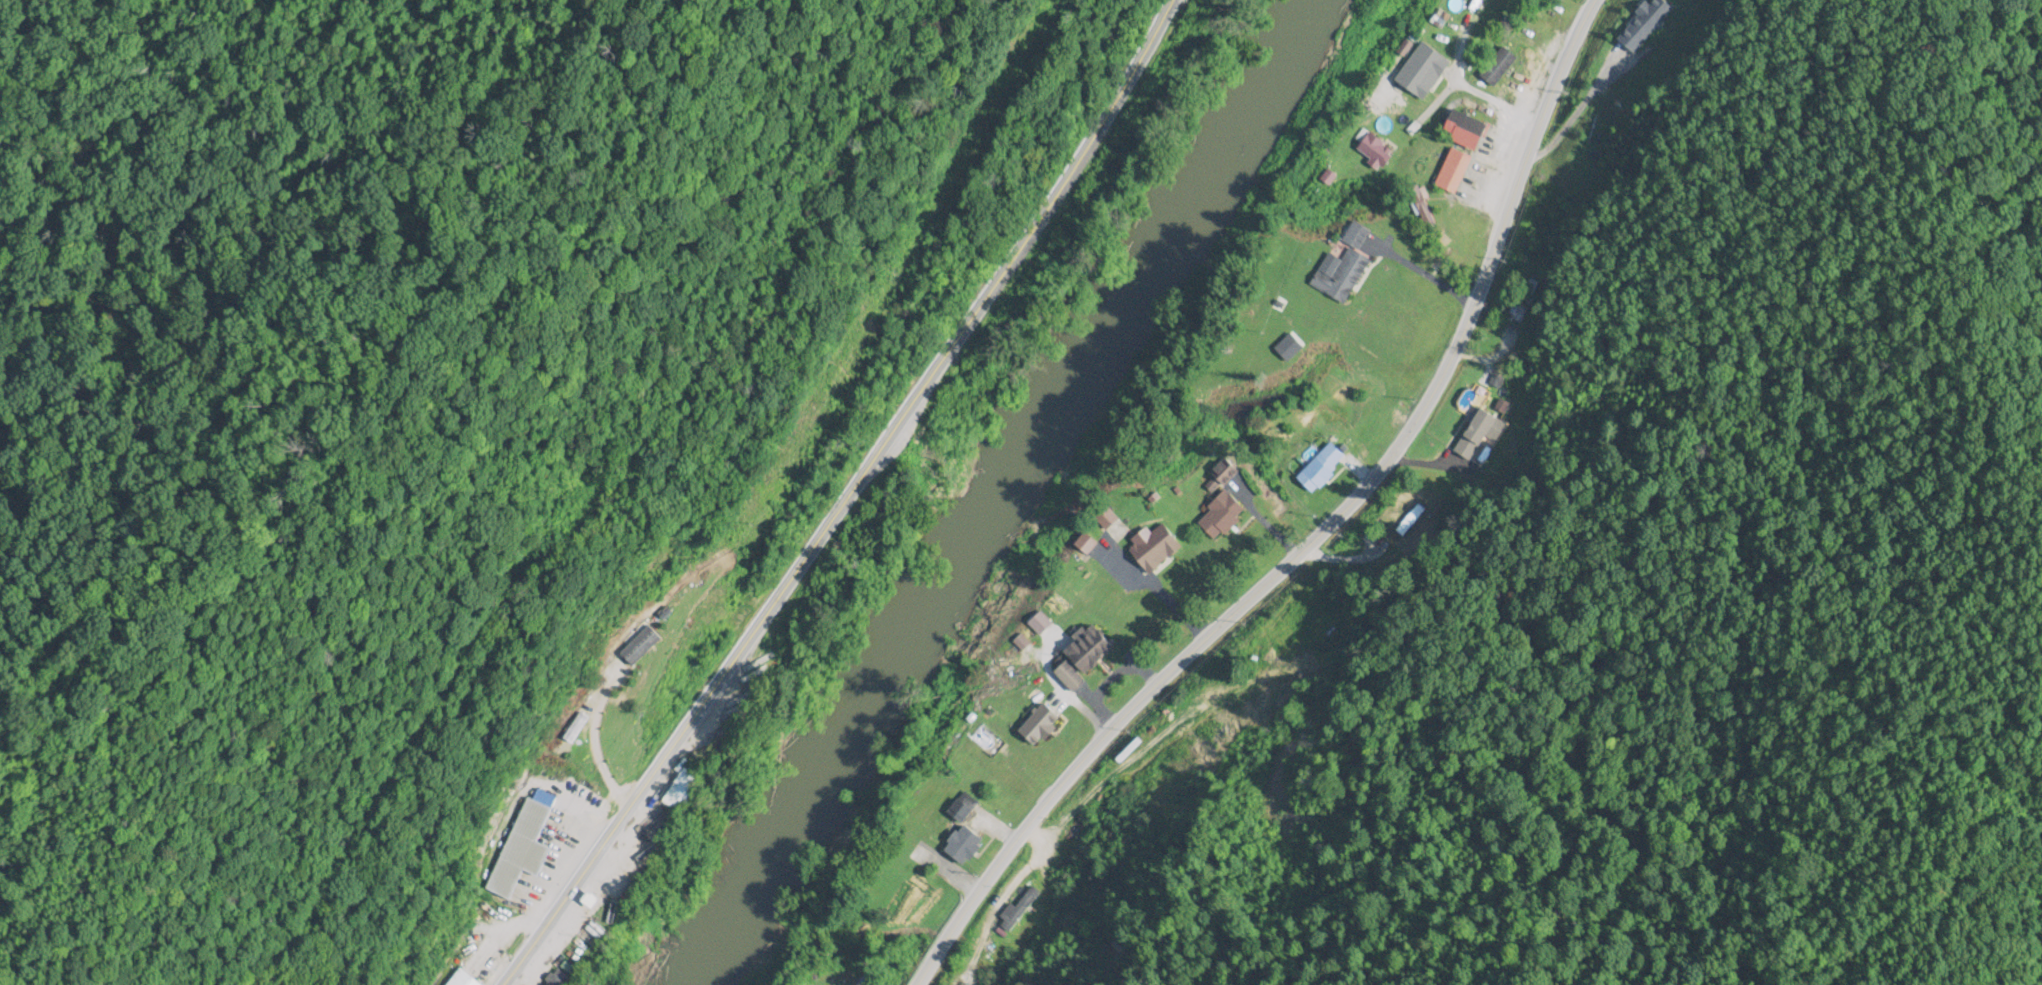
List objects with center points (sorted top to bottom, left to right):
building: (1650, 22)
building: (1425, 74)
building: (1467, 130)
building: (1378, 149)
building: (1455, 171)
building: (1345, 270)
building: (1518, 312)
building: (1478, 434)
building: (1323, 469)
river: (1002, 491)
road: (847, 497)
building: (1224, 518)
road: (1321, 533)
building: (1156, 549)
building: (645, 647)
building: (1093, 652)
building: (1071, 677)
building: (1043, 725)
building: (576, 730)
building: (987, 742)
building: (688, 792)
building: (966, 846)
building: (523, 850)
building: (1020, 910)
building: (565, 976)
building: (464, 979)

